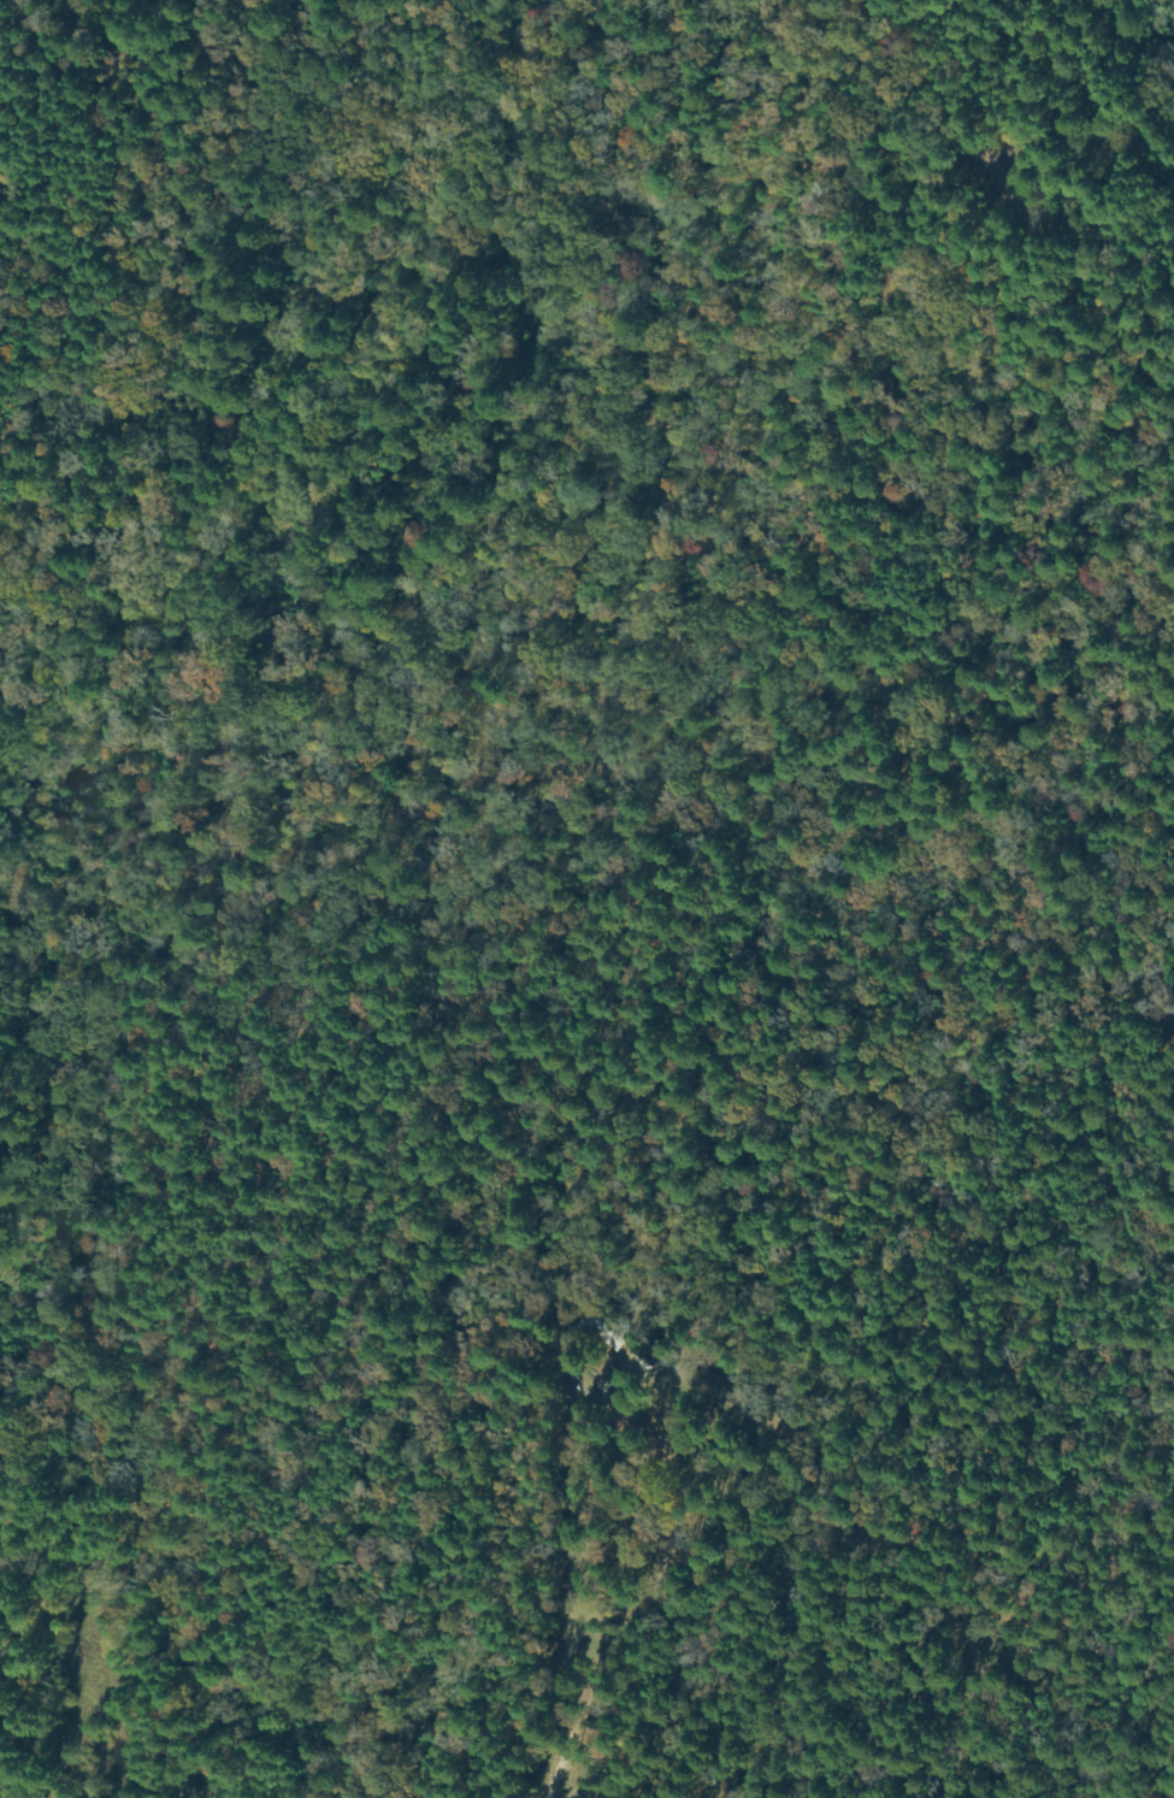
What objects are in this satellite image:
building: (604, 1331)
building: (601, 1391)

